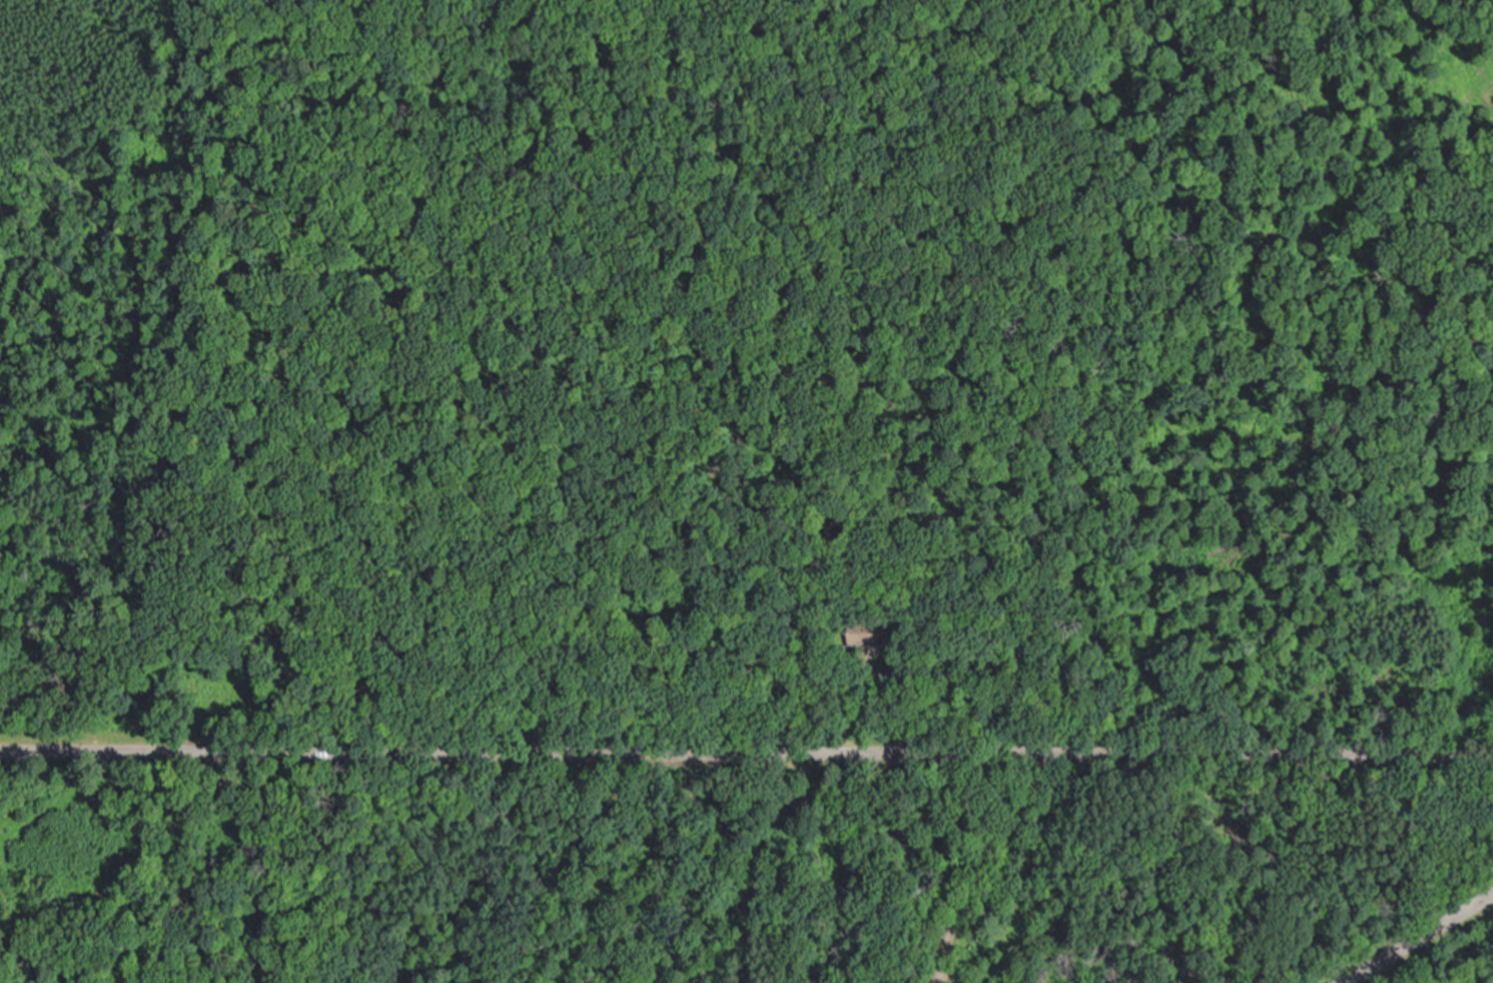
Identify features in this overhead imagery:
road: (746, 757)
building: (979, 938)
road: (1420, 940)

